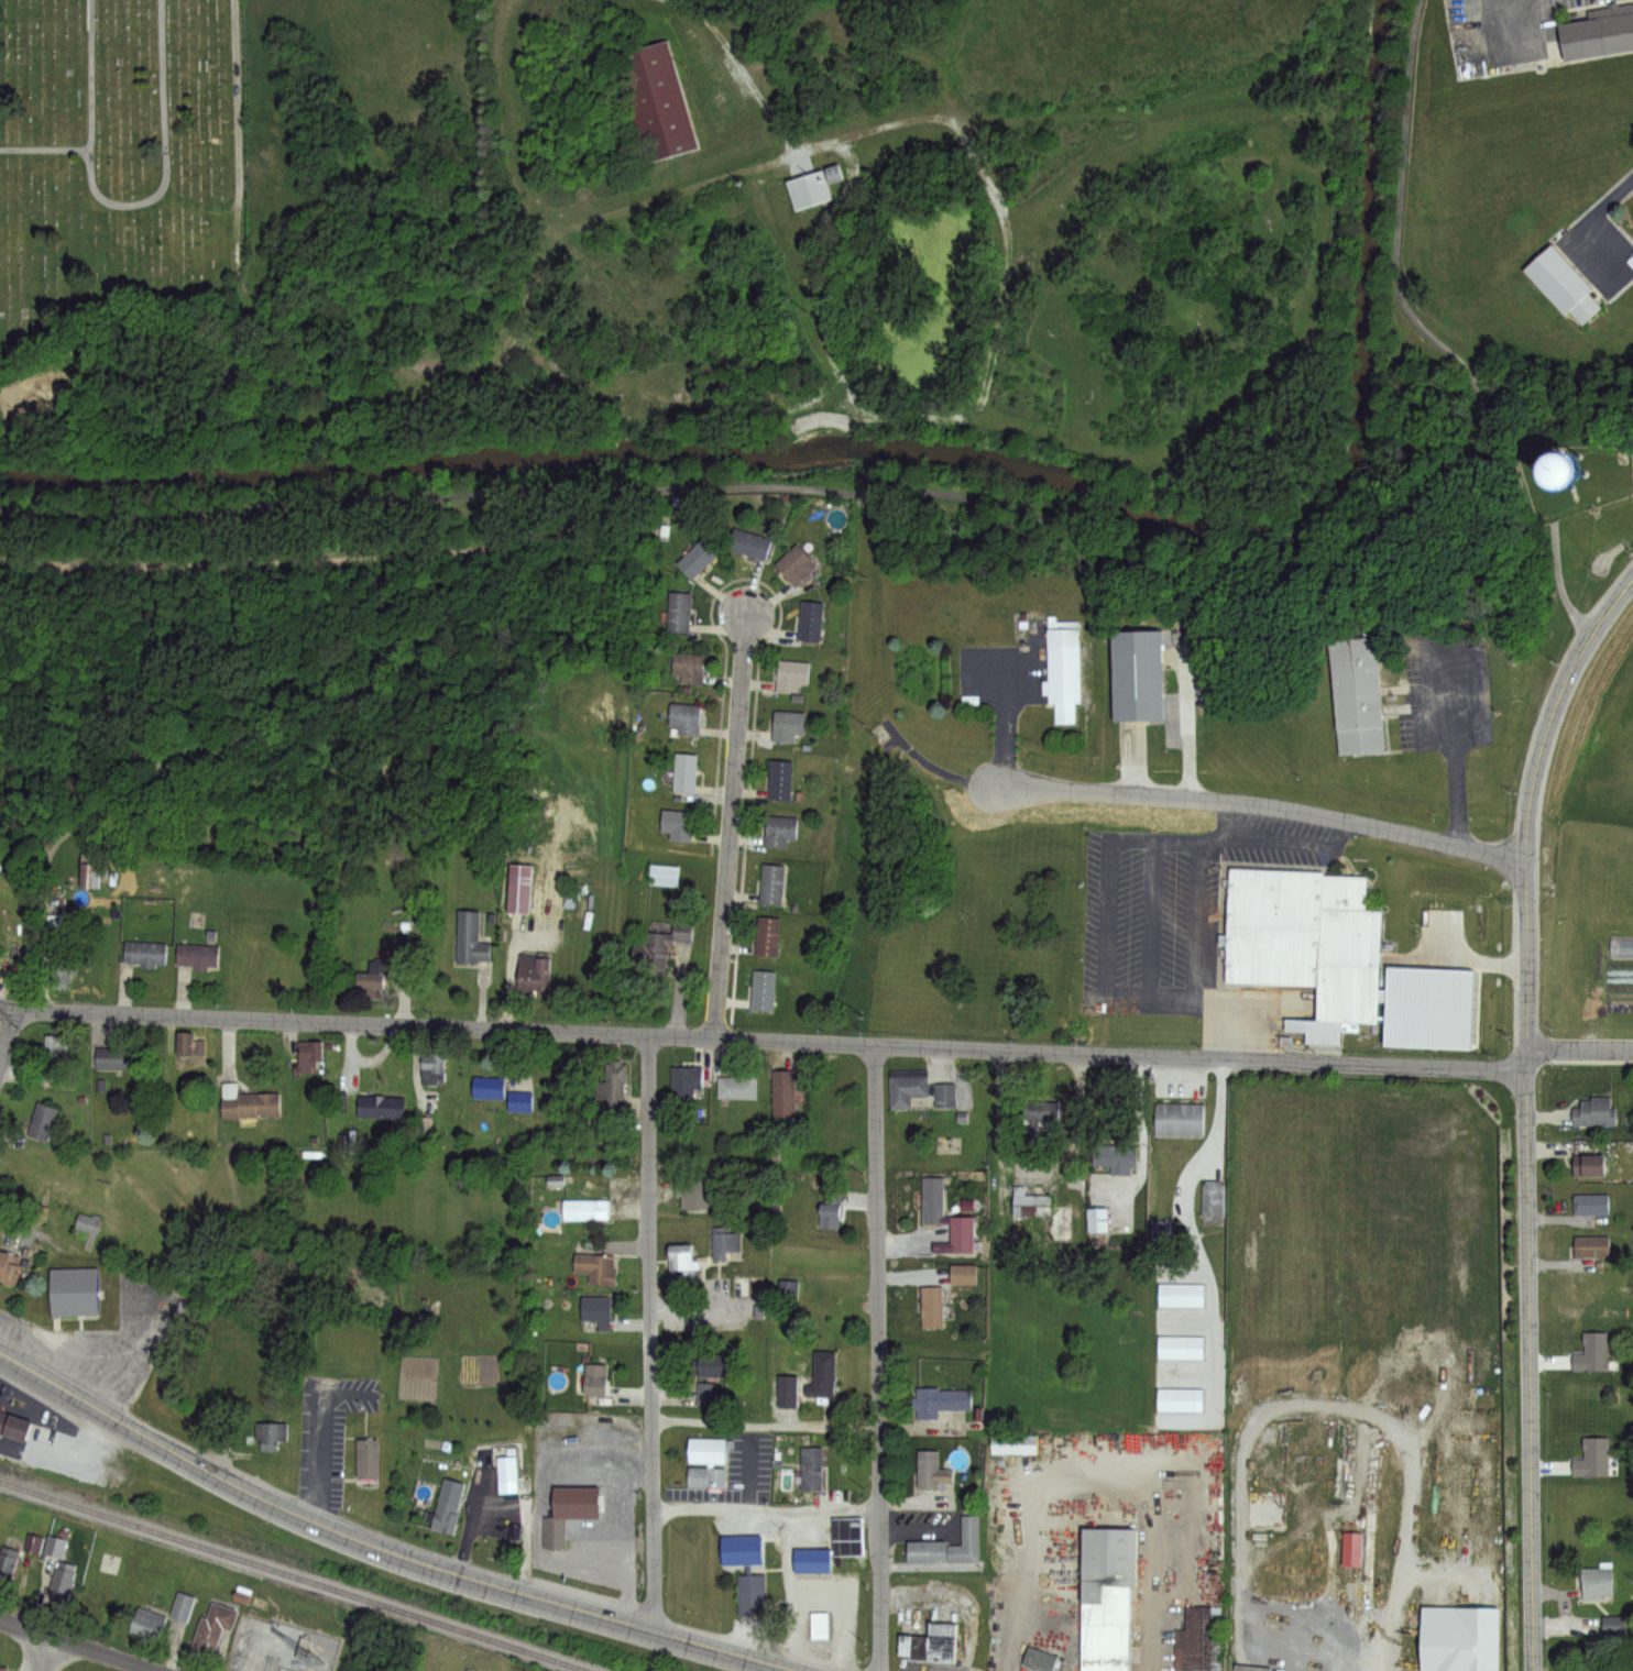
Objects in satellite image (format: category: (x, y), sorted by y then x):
building: (1598, 33)
wastewater plant: (1118, 43)
road: (739, 69)
building: (655, 98)
road: (502, 125)
road: (963, 138)
road: (45, 151)
park: (107, 153)
building: (808, 187)
road: (127, 206)
road: (1596, 212)
building: (1559, 282)
river: (940, 459)
building: (1545, 461)
water tower: (1567, 464)
road: (1005, 503)
building: (750, 542)
building: (698, 557)
building: (798, 567)
building: (679, 611)
building: (810, 622)
road: (1183, 656)
parking lot: (1005, 664)
building: (1063, 664)
building: (689, 667)
building: (1138, 673)
building: (791, 674)
parking lot: (1442, 684)
building: (1359, 690)
building: (686, 717)
building: (788, 725)
building: (684, 773)
building: (779, 779)
road: (1457, 798)
road: (1265, 805)
building: (677, 824)
road: (730, 829)
building: (779, 831)
building: (89, 876)
building: (664, 876)
building: (771, 883)
building: (519, 889)
parking lot: (1177, 903)
building: (57, 916)
building: (681, 936)
building: (767, 936)
building: (1311, 937)
building: (470, 938)
building: (1616, 946)
building: (653, 952)
building: (143, 954)
building: (198, 957)
building: (403, 957)
building: (61, 969)
building: (533, 974)
building: (370, 976)
building: (763, 990)
road: (8, 1036)
road: (761, 1043)
building: (188, 1044)
road: (1578, 1049)
building: (313, 1051)
building: (53, 1052)
building: (114, 1057)
building: (434, 1063)
building: (684, 1080)
building: (738, 1086)
building: (489, 1087)
building: (918, 1089)
building: (614, 1092)
building: (782, 1092)
building: (520, 1101)
building: (246, 1103)
building: (380, 1107)
building: (1040, 1110)
building: (1596, 1112)
road: (1525, 1113)
building: (1177, 1118)
building: (41, 1121)
building: (1115, 1156)
building: (1590, 1166)
building: (695, 1192)
building: (932, 1201)
building: (1029, 1202)
building: (1212, 1202)
building: (1591, 1205)
building: (585, 1210)
building: (830, 1211)
building: (1096, 1219)
road: (1188, 1221)
building: (86, 1222)
road: (876, 1228)
building: (1159, 1228)
building: (962, 1234)
building: (723, 1242)
building: (1592, 1246)
building: (681, 1257)
building: (598, 1268)
building: (8, 1272)
building: (962, 1276)
building: (748, 1286)
building: (788, 1293)
building: (74, 1295)
building: (1181, 1295)
building: (595, 1308)
building: (931, 1308)
building: (758, 1310)
road: (651, 1335)
building: (1181, 1349)
building: (1590, 1355)
building: (711, 1368)
building: (822, 1377)
building: (595, 1381)
building: (787, 1392)
building: (706, 1395)
building: (1180, 1398)
building: (941, 1400)
road: (1323, 1405)
road: (766, 1425)
building: (13, 1427)
building: (271, 1436)
building: (1015, 1448)
building: (708, 1451)
building: (365, 1453)
building: (1593, 1459)
building: (811, 1467)
building: (507, 1470)
building: (931, 1471)
road: (1085, 1472)
building: (706, 1477)
road: (766, 1504)
building: (448, 1506)
building: (569, 1514)
building: (847, 1538)
road: (879, 1540)
building: (53, 1547)
building: (947, 1547)
road: (376, 1549)
building: (741, 1551)
building: (812, 1561)
building: (107, 1563)
building: (9, 1564)
railway: (293, 1576)
building: (1601, 1577)
building: (61, 1582)
building: (752, 1596)
building: (1106, 1598)
building: (182, 1607)
building: (87, 1608)
building: (146, 1624)
building: (1613, 1625)
building: (820, 1626)
building: (211, 1628)
building: (1461, 1638)
building: (1199, 1640)
building: (931, 1643)
road: (73, 1645)
road: (40, 1652)
building: (1040, 1660)
building: (1, 1668)
building: (3, 1670)

